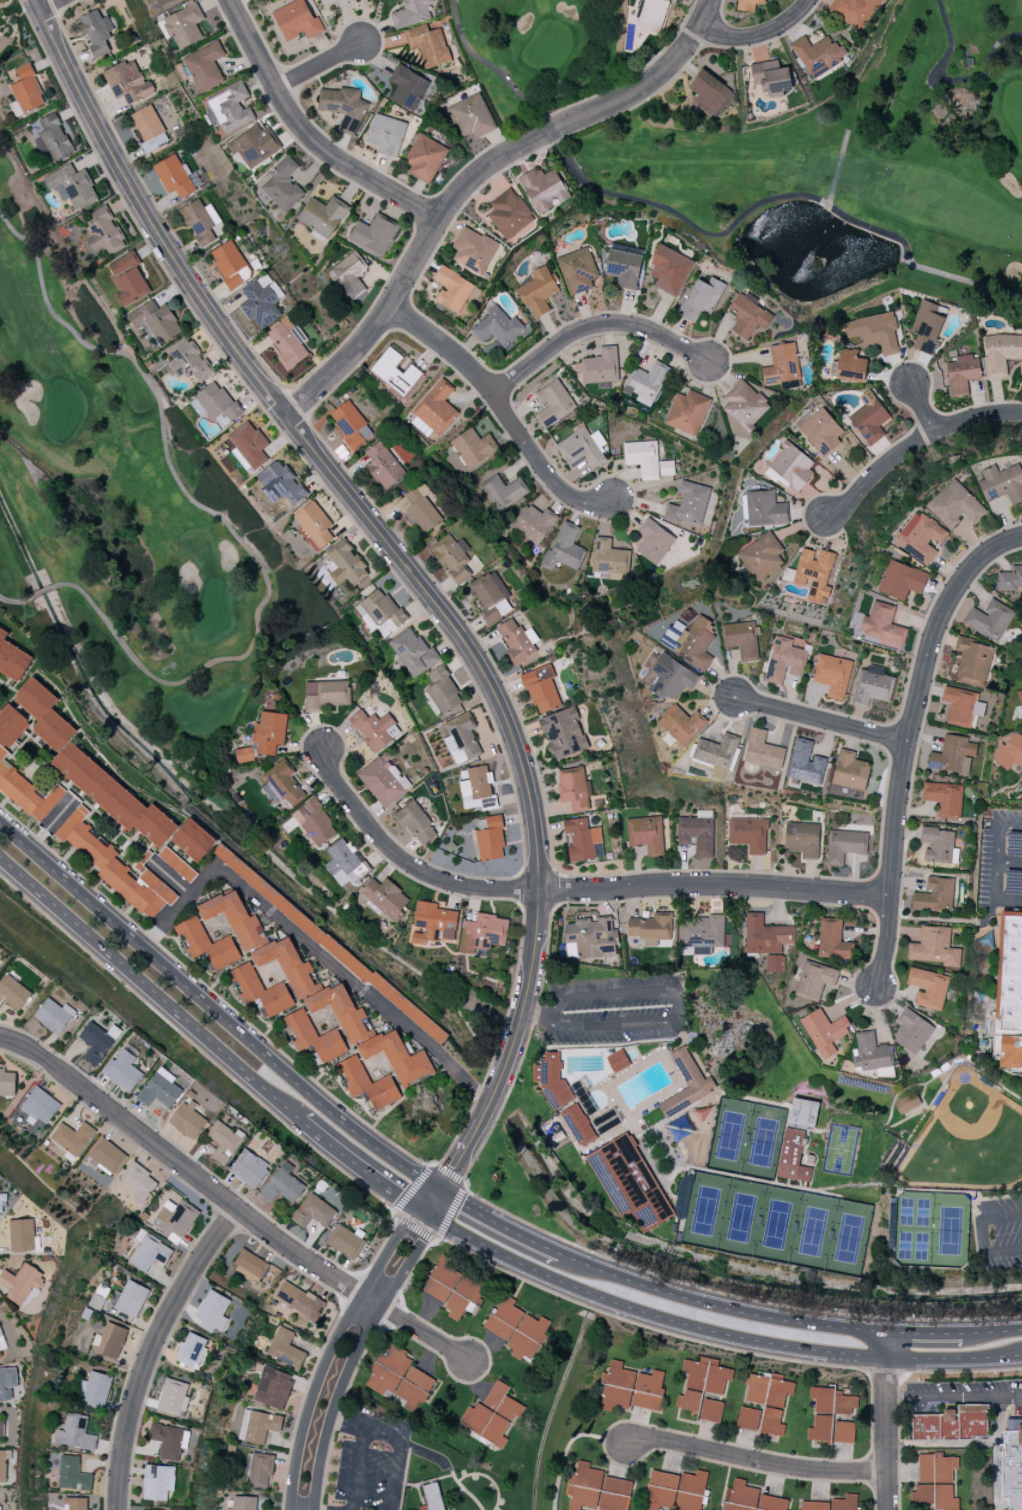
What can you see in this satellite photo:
building: (163, 2)
road: (50, 4)
building: (748, 5)
building: (652, 11)
building: (854, 11)
building: (410, 13)
building: (297, 20)
park: (536, 24)
building: (96, 32)
road: (760, 35)
building: (427, 45)
building: (205, 66)
road: (320, 67)
building: (771, 77)
building: (128, 82)
building: (407, 87)
building: (27, 90)
building: (709, 92)
building: (231, 107)
building: (344, 107)
building: (472, 116)
building: (149, 128)
road: (307, 134)
building: (386, 135)
building: (53, 138)
building: (253, 146)
building: (424, 158)
building: (174, 176)
road: (475, 178)
park: (853, 179)
building: (282, 184)
building: (71, 186)
building: (544, 189)
building: (510, 214)
building: (323, 215)
building: (201, 222)
building: (104, 233)
building: (374, 235)
building: (473, 250)
building: (230, 264)
building: (624, 267)
building: (669, 270)
building: (578, 271)
building: (350, 273)
building: (128, 279)
building: (453, 290)
building: (538, 291)
building: (701, 298)
building: (259, 304)
building: (747, 315)
building: (156, 322)
building: (926, 326)
building: (497, 327)
road: (595, 328)
building: (875, 332)
building: (286, 344)
building: (1000, 354)
building: (187, 360)
building: (781, 365)
building: (850, 366)
building: (601, 367)
building: (395, 372)
building: (962, 374)
building: (647, 383)
building: (553, 403)
building: (218, 404)
building: (744, 406)
building: (436, 408)
road: (922, 410)
road: (503, 412)
building: (687, 412)
building: (869, 418)
building: (350, 424)
building: (819, 431)
road: (914, 444)
building: (248, 446)
road: (311, 446)
building: (473, 448)
building: (581, 448)
building: (642, 458)
building: (383, 466)
building: (791, 468)
building: (280, 483)
building: (1002, 483)
park: (116, 489)
building: (503, 492)
building: (689, 505)
building: (955, 505)
building: (419, 508)
building: (765, 509)
building: (534, 523)
building: (313, 525)
building: (920, 537)
building: (654, 541)
building: (564, 548)
building: (761, 556)
building: (452, 557)
building: (609, 558)
building: (345, 564)
building: (812, 574)
building: (1010, 579)
building: (901, 580)
building: (490, 596)
building: (380, 611)
building: (989, 619)
building: (882, 624)
building: (741, 639)
building: (517, 642)
building: (413, 652)
building: (12, 658)
building: (785, 659)
building: (973, 662)
building: (832, 675)
building: (667, 676)
building: (872, 685)
building: (541, 689)
building: (443, 691)
building: (325, 694)
building: (1020, 697)
building: (961, 706)
building: (45, 714)
road: (822, 721)
building: (681, 724)
building: (11, 726)
building: (374, 729)
building: (269, 732)
building: (564, 733)
building: (461, 738)
road: (907, 742)
building: (762, 750)
building: (1009, 752)
building: (716, 754)
building: (244, 755)
building: (952, 755)
building: (805, 762)
building: (850, 771)
building: (1020, 775)
building: (381, 781)
building: (283, 783)
building: (573, 788)
building: (27, 791)
building: (113, 796)
building: (944, 798)
building: (415, 822)
building: (314, 823)
road: (49, 825)
building: (697, 833)
building: (645, 834)
building: (748, 834)
building: (490, 838)
building: (581, 839)
building: (802, 839)
building: (194, 840)
building: (938, 844)
building: (843, 845)
road: (997, 853)
building: (344, 863)
building: (177, 864)
road: (1009, 864)
building: (115, 867)
road: (576, 889)
building: (934, 896)
building: (385, 897)
road: (995, 901)
road: (936, 918)
building: (433, 923)
building: (650, 929)
building: (482, 933)
building: (700, 934)
building: (765, 935)
building: (592, 937)
building: (832, 940)
building: (207, 943)
building: (262, 943)
building: (329, 943)
road: (312, 946)
building: (934, 947)
building: (773, 963)
building: (814, 980)
building: (927, 988)
building: (1009, 988)
road: (149, 990)
building: (260, 990)
road: (669, 990)
building: (13, 993)
building: (340, 1011)
road: (215, 1012)
road: (533, 1014)
building: (54, 1015)
road: (520, 1017)
building: (824, 1031)
building: (912, 1031)
building: (313, 1037)
building: (96, 1042)
building: (870, 1052)
building: (398, 1057)
building: (617, 1061)
building: (123, 1071)
building: (7, 1082)
building: (687, 1082)
building: (367, 1083)
building: (160, 1089)
building: (561, 1098)
building: (906, 1103)
building: (40, 1105)
building: (803, 1113)
building: (187, 1119)
park: (744, 1136)
building: (72, 1137)
park: (965, 1137)
building: (224, 1141)
park: (839, 1147)
building: (106, 1156)
road: (459, 1156)
building: (792, 1156)
road: (356, 1165)
building: (249, 1169)
traffic signals: (453, 1169)
building: (138, 1182)
building: (629, 1183)
building: (282, 1185)
traffic signals: (398, 1194)
road: (427, 1198)
building: (2, 1200)
road: (232, 1203)
traffic signals: (462, 1204)
road: (437, 1205)
building: (314, 1211)
road: (425, 1211)
building: (176, 1219)
park: (775, 1220)
road: (499, 1225)
park: (931, 1230)
building: (21, 1234)
road: (984, 1234)
building: (345, 1241)
traffic signals: (421, 1241)
building: (149, 1252)
building: (250, 1265)
building: (21, 1283)
building: (453, 1289)
building: (129, 1298)
building: (299, 1300)
building: (96, 1302)
road: (720, 1306)
building: (212, 1311)
building: (517, 1329)
road: (993, 1330)
road: (925, 1331)
road: (717, 1333)
building: (111, 1340)
building: (2, 1341)
building: (285, 1348)
road: (154, 1349)
road: (331, 1349)
building: (192, 1350)
building: (0, 1355)
road: (354, 1356)
building: (399, 1377)
building: (701, 1381)
building: (7, 1383)
building: (273, 1387)
building: (631, 1388)
building: (94, 1390)
building: (173, 1396)
road: (953, 1397)
building: (768, 1399)
building: (822, 1399)
building: (845, 1405)
building: (711, 1410)
building: (492, 1414)
building: (748, 1418)
road: (886, 1420)
road: (347, 1423)
building: (953, 1424)
building: (258, 1426)
building: (1, 1428)
building: (820, 1428)
road: (377, 1431)
building: (843, 1432)
building: (75, 1433)
building: (167, 1441)
road: (568, 1443)
road: (759, 1462)
building: (3, 1466)
building: (1012, 1468)
building: (258, 1469)
building: (72, 1474)
building: (158, 1482)
building: (935, 1482)
building: (584, 1487)
building: (675, 1490)
building: (614, 1494)
building: (438, 1497)
building: (749, 1498)
building: (243, 1503)
building: (844, 1503)
building: (814, 1505)
building: (0, 1508)

